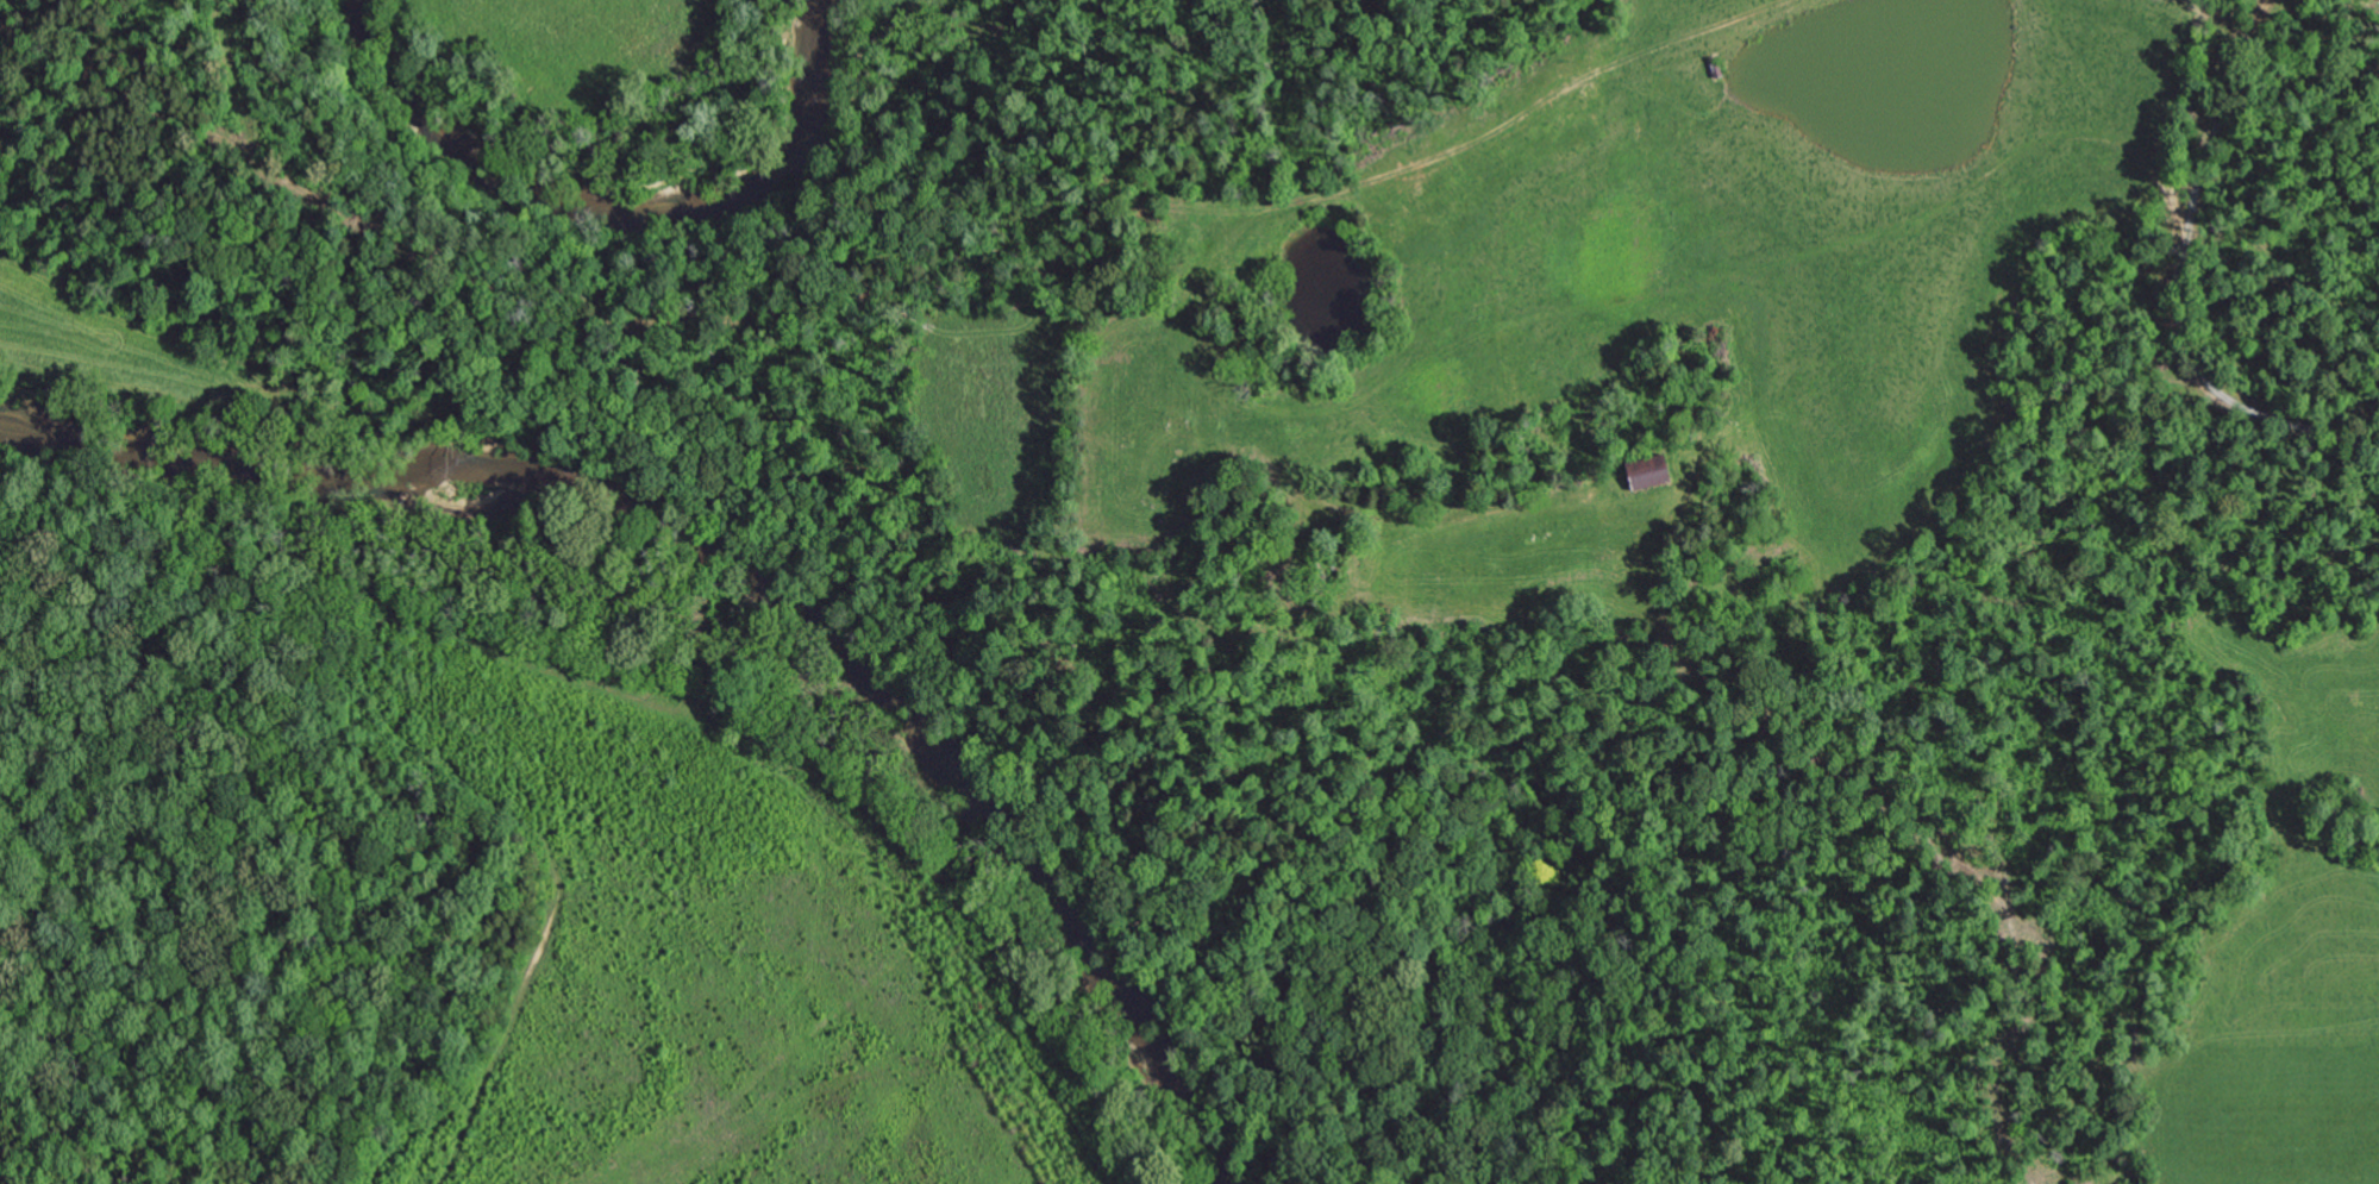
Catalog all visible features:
road: (1187, 212)
road: (2116, 350)
building: (1644, 477)
road: (199, 1149)

